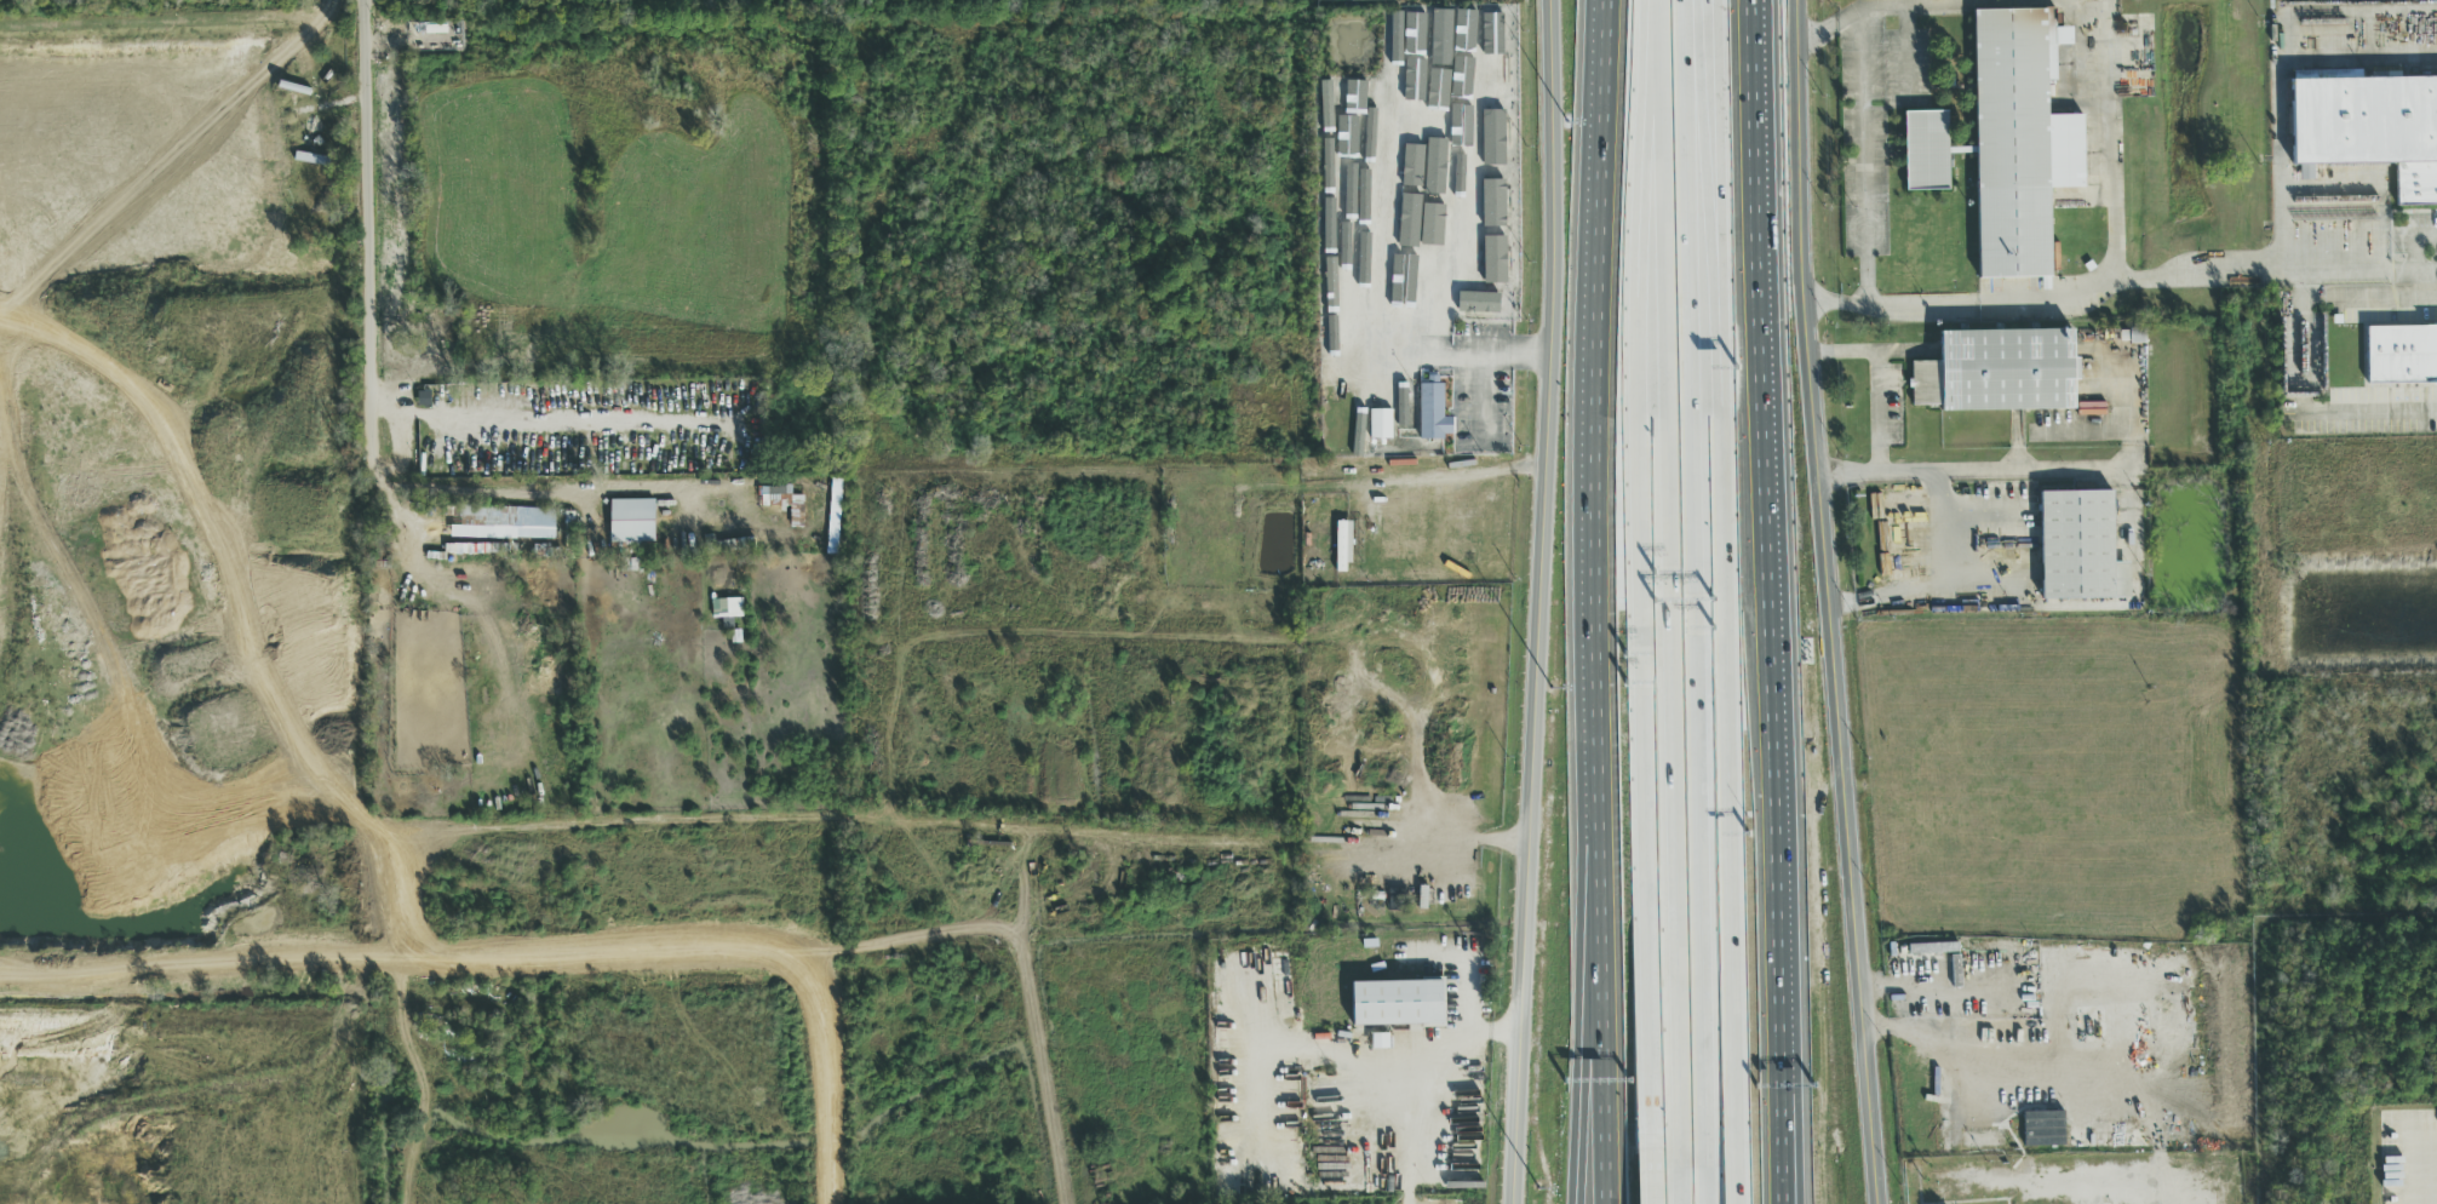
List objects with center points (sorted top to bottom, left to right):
road: (1908, 5)
road: (349, 8)
road: (1829, 27)
building: (1418, 36)
building: (1467, 38)
building: (1397, 39)
building: (1444, 41)
building: (1492, 71)
road: (1658, 71)
road: (1682, 71)
road: (1751, 73)
building: (1470, 78)
road: (2282, 91)
building: (1426, 93)
building: (1382, 105)
building: (1364, 108)
building: (1449, 108)
building: (2372, 128)
building: (1493, 132)
building: (2020, 142)
building: (1927, 150)
building: (1472, 151)
road: (1863, 157)
building: (1412, 166)
road: (2110, 190)
road: (1719, 200)
road: (1708, 201)
building: (1492, 203)
building: (1463, 205)
road: (1302, 225)
road: (367, 227)
building: (1441, 233)
road: (2413, 243)
building: (1493, 260)
building: (1416, 268)
road: (2430, 271)
road: (2352, 274)
road: (2422, 285)
road: (2047, 297)
road: (2430, 298)
building: (1478, 303)
road: (1598, 316)
building: (2133, 337)
building: (2399, 354)
road: (1481, 359)
road: (2300, 361)
building: (2001, 372)
building: (1433, 412)
building: (1361, 422)
road: (539, 425)
building: (1380, 425)
road: (1913, 470)
road: (1852, 474)
road: (1452, 478)
road: (529, 491)
building: (784, 504)
building: (631, 522)
building: (515, 524)
building: (1342, 547)
building: (2082, 547)
road: (1828, 556)
road: (1641, 574)
road: (1939, 579)
road: (1771, 586)
road: (1543, 602)
building: (727, 609)
road: (1669, 673)
road: (1698, 673)
road: (1601, 696)
road: (1726, 803)
road: (1197, 841)
road: (1022, 891)
building: (1933, 950)
road: (1468, 965)
road: (1027, 971)
road: (1579, 980)
road: (1606, 981)
building: (1400, 1004)
building: (2122, 1024)
building: (1378, 1042)
road: (1347, 1051)
road: (2053, 1065)
road: (825, 1076)
road: (1781, 1116)
road: (1787, 1116)
building: (2043, 1129)
road: (1415, 1130)
building: (1984, 1140)
road: (1877, 1158)
road: (1653, 1177)
road: (2120, 1181)
building: (1950, 1192)

